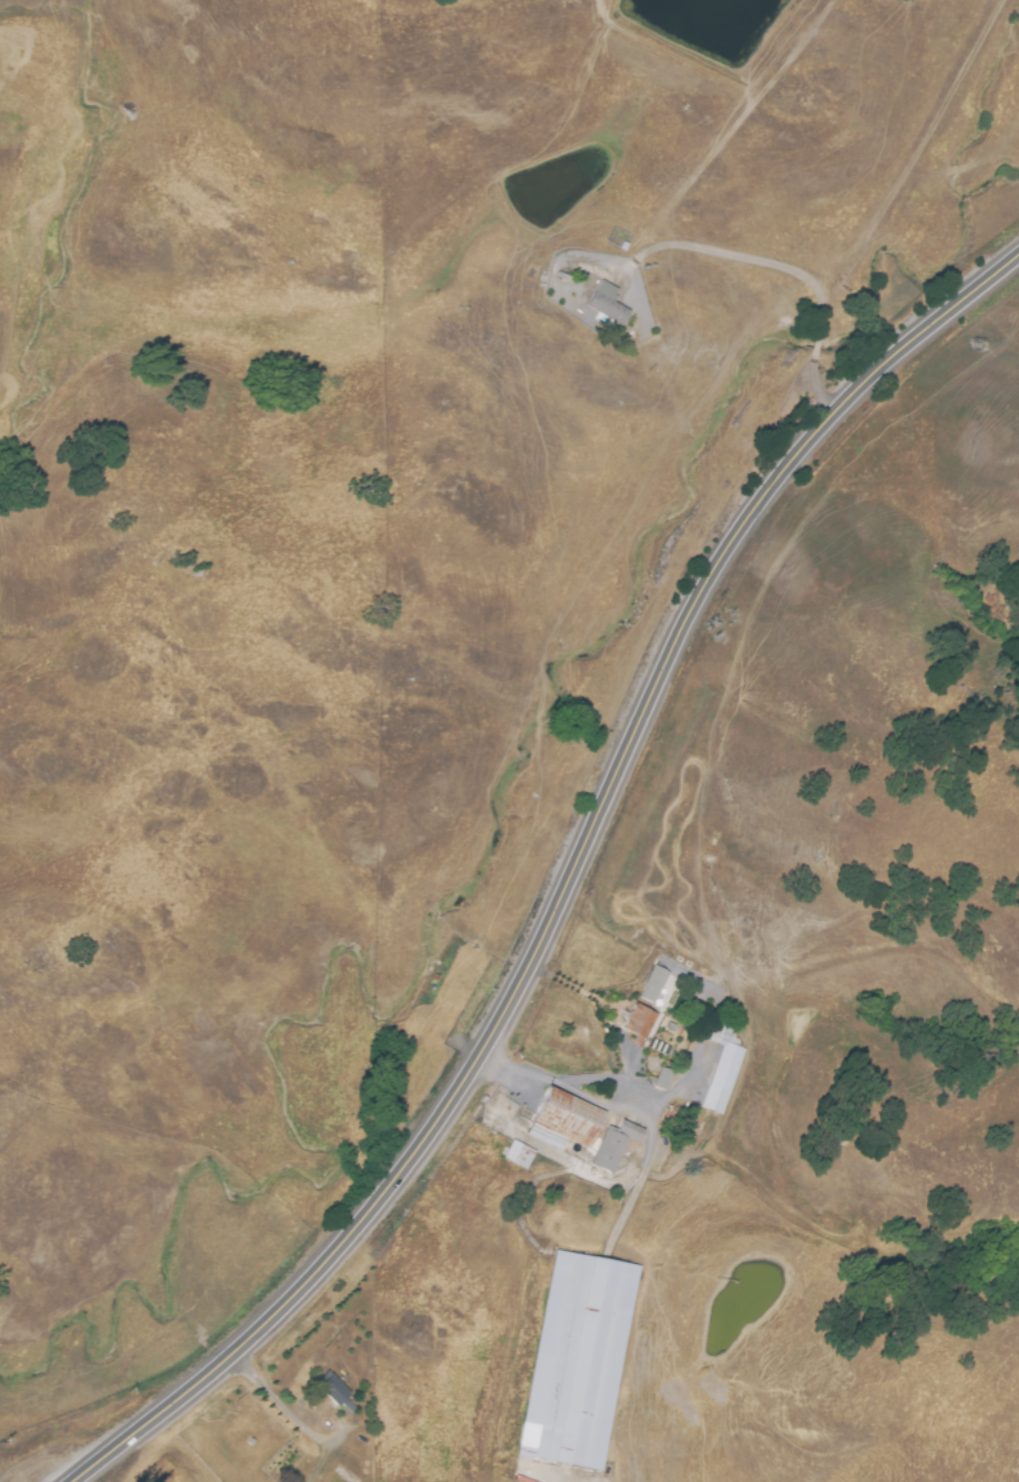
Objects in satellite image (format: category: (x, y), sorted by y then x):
building: (624, 246)
road: (787, 271)
building: (606, 308)
road: (565, 876)
building: (655, 990)
building: (640, 1028)
building: (659, 1048)
building: (720, 1067)
building: (663, 1080)
road: (634, 1085)
building: (564, 1113)
building: (612, 1141)
building: (516, 1151)
road: (643, 1172)
building: (577, 1357)
building: (337, 1391)
road: (280, 1408)

